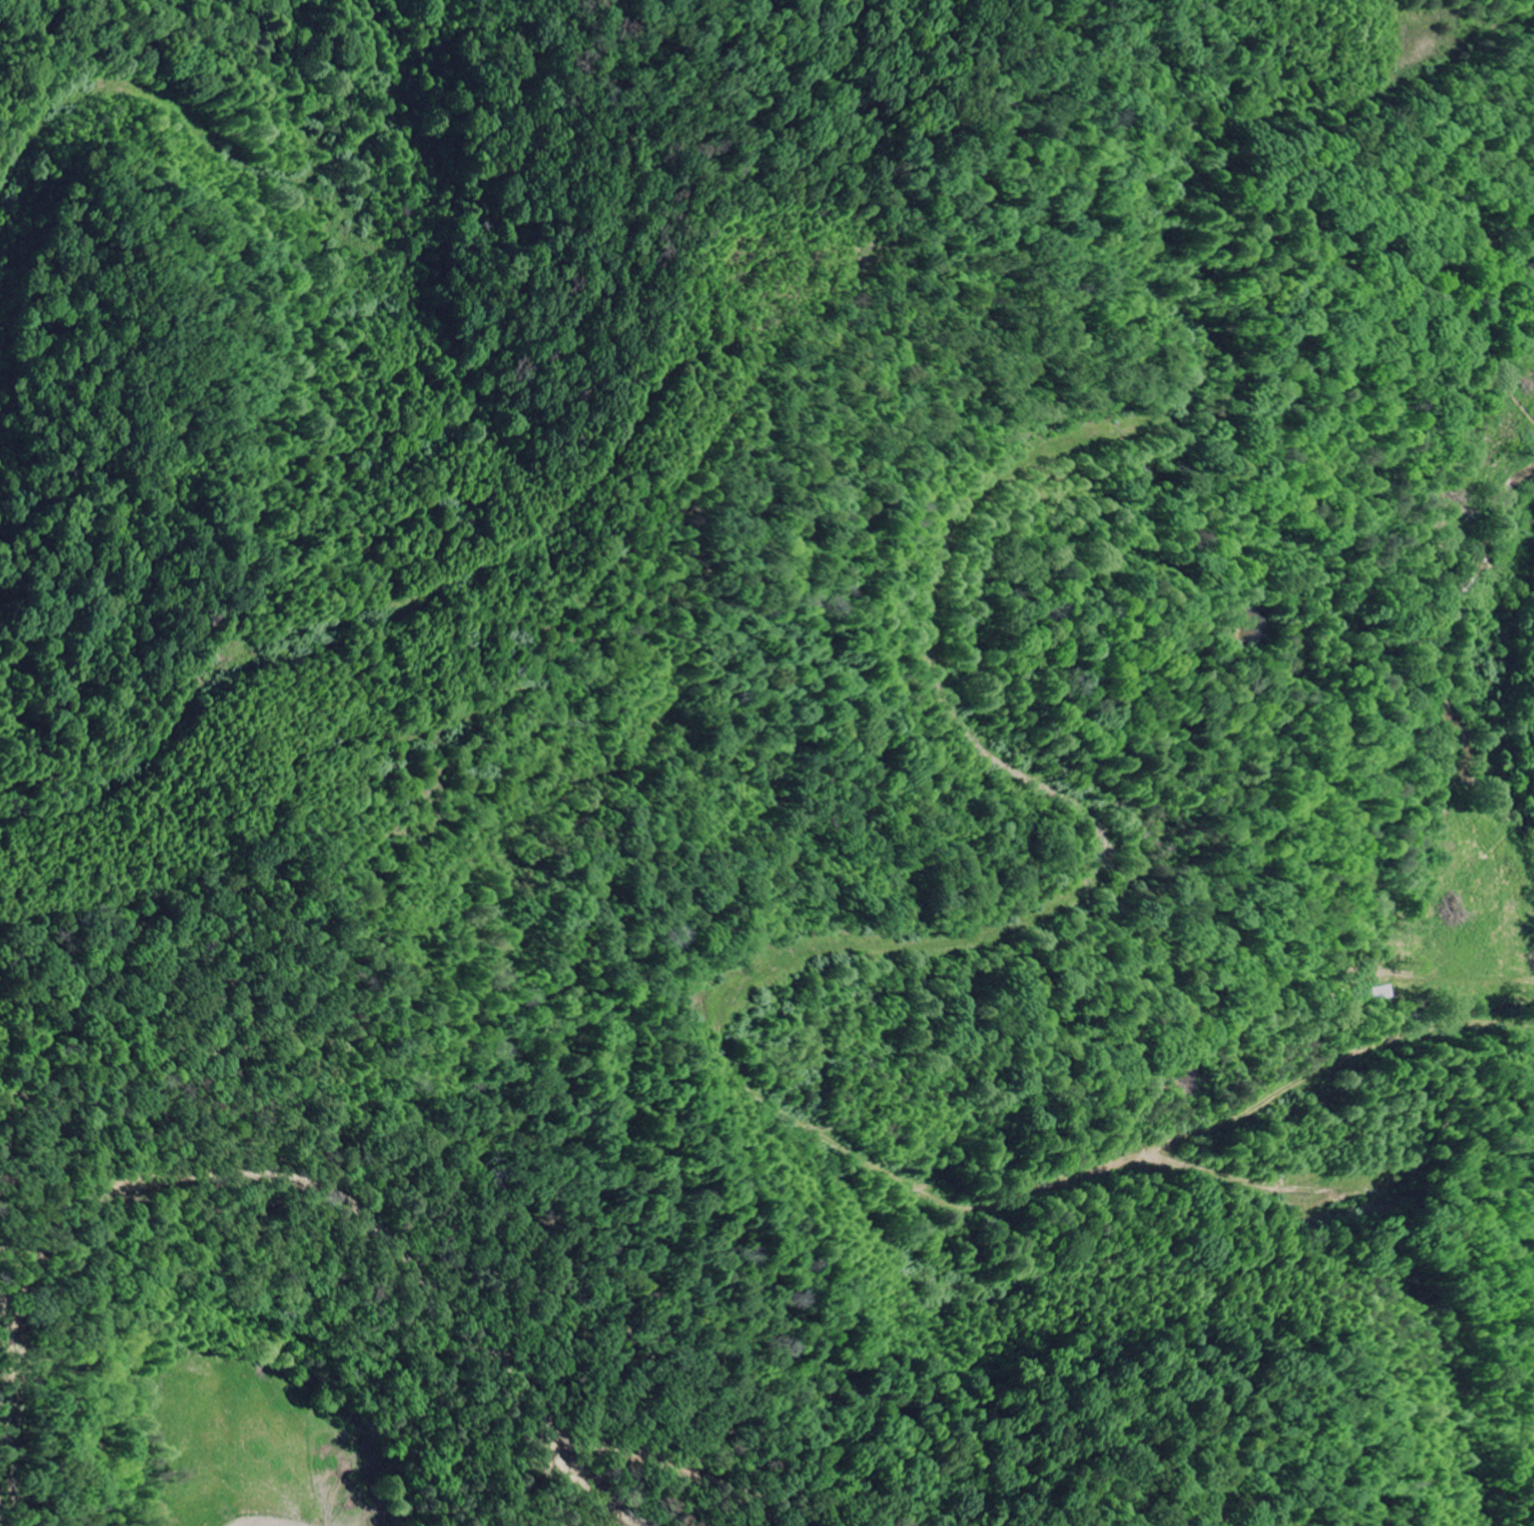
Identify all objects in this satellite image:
building: (1374, 996)

